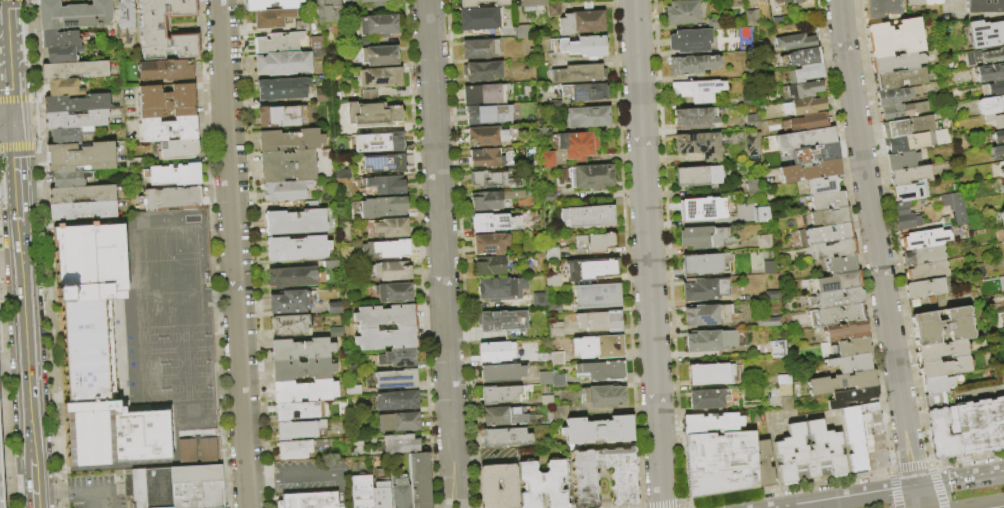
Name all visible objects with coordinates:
building: (370, 1)
building: (781, 1)
building: (798, 1)
building: (761, 2)
building: (912, 2)
building: (930, 2)
building: (481, 3)
building: (269, 4)
building: (530, 4)
building: (984, 6)
building: (879, 8)
building: (552, 10)
building: (326, 11)
building: (682, 12)
building: (73, 14)
building: (125, 15)
building: (270, 18)
building: (478, 18)
building: (751, 19)
building: (777, 20)
building: (581, 23)
building: (714, 23)
building: (151, 25)
building: (377, 25)
building: (521, 32)
building: (986, 34)
building: (894, 38)
building: (59, 39)
building: (281, 40)
building: (690, 41)
building: (795, 42)
building: (314, 43)
building: (581, 47)
building: (478, 49)
building: (60, 55)
building: (378, 56)
building: (801, 57)
building: (984, 57)
road: (9, 63)
building: (896, 63)
building: (281, 64)
building: (692, 65)
building: (73, 70)
building: (165, 70)
building: (481, 71)
building: (805, 73)
building: (990, 73)
building: (578, 74)
building: (379, 78)
building: (900, 79)
building: (62, 87)
building: (996, 88)
building: (281, 89)
building: (804, 89)
building: (697, 91)
building: (584, 92)
building: (367, 94)
building: (484, 95)
building: (896, 96)
building: (165, 100)
building: (749, 100)
building: (75, 103)
building: (553, 105)
building: (803, 106)
building: (990, 106)
building: (920, 108)
building: (895, 113)
building: (487, 114)
building: (371, 115)
building: (280, 117)
building: (588, 117)
building: (694, 118)
building: (75, 119)
building: (995, 120)
building: (809, 122)
building: (753, 123)
road: (6, 127)
traffic signals: (13, 127)
building: (907, 127)
building: (167, 129)
building: (64, 135)
building: (485, 136)
building: (998, 137)
building: (805, 139)
building: (288, 140)
building: (376, 142)
building: (753, 144)
building: (901, 144)
building: (576, 145)
building: (699, 145)
building: (178, 149)
building: (996, 152)
building: (815, 153)
building: (80, 156)
building: (484, 158)
building: (546, 160)
building: (900, 161)
building: (382, 164)
building: (1003, 164)
building: (285, 166)
building: (810, 171)
building: (173, 174)
building: (1002, 175)
building: (592, 176)
building: (698, 176)
building: (909, 176)
road: (16, 177)
building: (66, 179)
building: (491, 181)
building: (385, 185)
building: (822, 186)
building: (752, 187)
building: (284, 191)
building: (910, 192)
building: (1003, 192)
building: (81, 193)
building: (169, 197)
building: (546, 197)
building: (493, 200)
building: (827, 201)
building: (382, 207)
building: (954, 207)
building: (901, 208)
building: (702, 209)
building: (82, 210)
building: (762, 215)
building: (587, 217)
building: (829, 217)
building: (1002, 217)
building: (294, 222)
building: (907, 222)
building: (493, 223)
building: (390, 228)
building: (824, 234)
building: (702, 237)
building: (924, 239)
building: (763, 242)
building: (594, 243)
building: (489, 244)
road: (874, 244)
building: (295, 248)
building: (385, 249)
building: (834, 249)
road: (233, 254)
road: (440, 254)
road: (646, 254)
building: (551, 255)
building: (923, 256)
building: (702, 264)
building: (841, 265)
building: (489, 266)
building: (769, 268)
building: (590, 270)
building: (390, 271)
building: (926, 272)
building: (290, 277)
building: (552, 281)
building: (834, 282)
building: (923, 288)
building: (495, 289)
building: (705, 290)
building: (392, 293)
building: (772, 295)
building: (595, 297)
building: (836, 298)
building: (538, 300)
building: (930, 300)
building: (288, 302)
building: (915, 303)
building: (332, 308)
building: (555, 308)
building: (706, 315)
building: (382, 316)
building: (834, 316)
building: (499, 321)
building: (598, 322)
building: (768, 322)
building: (287, 325)
building: (941, 326)
building: (556, 330)
building: (846, 331)
building: (334, 332)
road: (25, 337)
building: (384, 338)
building: (710, 341)
building: (598, 347)
building: (852, 347)
building: (778, 350)
building: (941, 351)
building: (98, 352)
building: (495, 352)
building: (396, 358)
building: (550, 359)
building: (300, 360)
building: (850, 363)
building: (943, 367)
building: (602, 371)
building: (501, 373)
building: (710, 374)
building: (544, 378)
building: (394, 379)
building: (783, 380)
building: (558, 381)
building: (841, 383)
building: (937, 384)
road: (1003, 386)
road: (985, 389)
building: (303, 392)
building: (503, 395)
road: (967, 396)
building: (603, 397)
building: (851, 397)
building: (707, 399)
building: (938, 399)
building: (546, 400)
building: (395, 401)
building: (787, 404)
building: (299, 411)
building: (559, 412)
building: (502, 416)
building: (397, 422)
building: (711, 423)
building: (980, 426)
building: (296, 430)
building: (597, 431)
building: (941, 435)
building: (504, 438)
building: (854, 439)
building: (873, 441)
building: (398, 444)
building: (187, 450)
building: (207, 450)
building: (292, 450)
building: (790, 450)
road: (32, 459)
building: (719, 463)
building: (763, 464)
road: (325, 476)
building: (621, 478)
road: (261, 479)
building: (417, 480)
road: (959, 481)
building: (568, 484)
building: (541, 485)
building: (497, 486)
building: (177, 487)
traffic signals: (915, 488)
road: (33, 489)
building: (0, 490)
road: (97, 492)
building: (359, 492)
building: (398, 494)
road: (53, 495)
parking lot: (94, 495)
building: (379, 495)
road: (855, 498)
road: (916, 498)
building: (307, 500)
road: (989, 505)
road: (35, 506)

